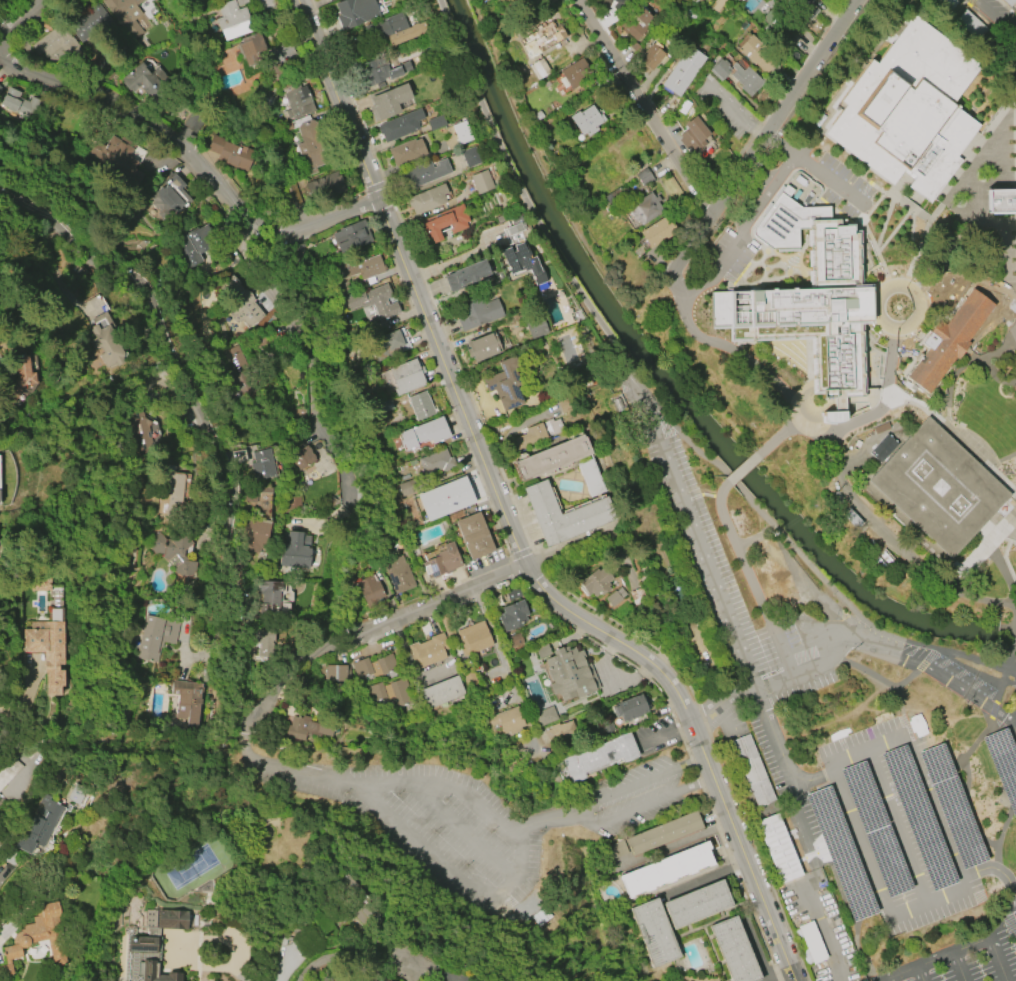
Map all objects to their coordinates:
building: (481, 0)
building: (801, 9)
building: (354, 12)
parking lot: (1003, 12)
building: (125, 15)
road: (998, 16)
road: (27, 20)
building: (233, 20)
building: (634, 22)
building: (91, 24)
building: (394, 28)
building: (541, 38)
building: (53, 43)
building: (253, 47)
building: (757, 55)
building: (650, 57)
building: (539, 69)
building: (719, 69)
building: (681, 71)
building: (380, 73)
building: (575, 74)
building: (142, 78)
building: (744, 79)
road: (472, 83)
building: (297, 101)
building: (388, 101)
building: (13, 104)
road: (643, 108)
building: (907, 108)
parking lot: (723, 109)
building: (585, 120)
building: (436, 123)
building: (400, 125)
building: (456, 135)
building: (692, 135)
road: (762, 135)
road: (779, 144)
building: (312, 148)
building: (406, 152)
building: (227, 154)
building: (115, 155)
road: (192, 157)
building: (470, 157)
building: (604, 169)
building: (422, 173)
building: (481, 182)
building: (327, 185)
parking lot: (841, 185)
building: (164, 198)
building: (1000, 198)
building: (427, 199)
building: (644, 209)
building: (444, 223)
road: (742, 231)
building: (657, 232)
building: (514, 234)
building: (351, 236)
building: (191, 245)
parking lot: (730, 252)
building: (522, 262)
building: (359, 268)
building: (466, 274)
road: (673, 279)
building: (808, 297)
building: (242, 303)
building: (374, 303)
building: (478, 313)
road: (1013, 314)
building: (536, 329)
road: (894, 334)
building: (947, 337)
building: (107, 340)
road: (311, 342)
building: (390, 344)
building: (482, 347)
road: (628, 366)
building: (406, 377)
building: (21, 379)
building: (505, 383)
river: (668, 388)
building: (420, 406)
building: (554, 426)
building: (141, 432)
building: (423, 433)
building: (527, 437)
road: (778, 437)
building: (300, 457)
building: (550, 457)
road: (829, 460)
building: (435, 463)
building: (262, 465)
road: (718, 466)
road: (743, 467)
building: (589, 478)
building: (406, 487)
building: (936, 489)
building: (171, 492)
building: (445, 499)
building: (563, 515)
road: (340, 520)
road: (508, 520)
road: (692, 529)
building: (255, 535)
road: (753, 535)
building: (474, 536)
road: (980, 546)
building: (295, 549)
road: (737, 551)
building: (167, 552)
building: (443, 560)
building: (399, 575)
road: (225, 577)
building: (595, 582)
building: (369, 589)
building: (614, 597)
building: (270, 598)
building: (511, 616)
road: (1015, 618)
road: (1012, 633)
building: (147, 636)
building: (475, 637)
building: (264, 641)
road: (780, 648)
building: (47, 651)
building: (428, 651)
road: (930, 652)
road: (920, 664)
road: (807, 669)
building: (366, 670)
road: (868, 670)
building: (336, 673)
road: (938, 673)
road: (1003, 673)
building: (567, 674)
road: (895, 685)
parking lot: (1015, 687)
building: (441, 692)
building: (378, 693)
building: (398, 693)
building: (187, 701)
road: (992, 707)
building: (629, 708)
building: (545, 716)
road: (698, 718)
building: (507, 720)
road: (1014, 722)
building: (308, 728)
parking lot: (847, 744)
road: (966, 752)
road: (1001, 752)
building: (598, 756)
building: (751, 768)
building: (9, 771)
road: (790, 774)
road: (920, 783)
road: (612, 791)
road: (487, 807)
road: (637, 807)
road: (967, 809)
building: (40, 826)
road: (896, 826)
road: (1002, 828)
road: (466, 830)
building: (664, 833)
road: (680, 846)
building: (777, 846)
building: (666, 869)
road: (878, 883)
building: (698, 904)
road: (820, 925)
building: (654, 932)
building: (37, 937)
building: (809, 942)
road: (176, 944)
building: (151, 946)
building: (734, 950)
road: (356, 952)
road: (932, 957)
road: (997, 958)
road: (958, 965)
road: (919, 972)
road: (247, 975)

